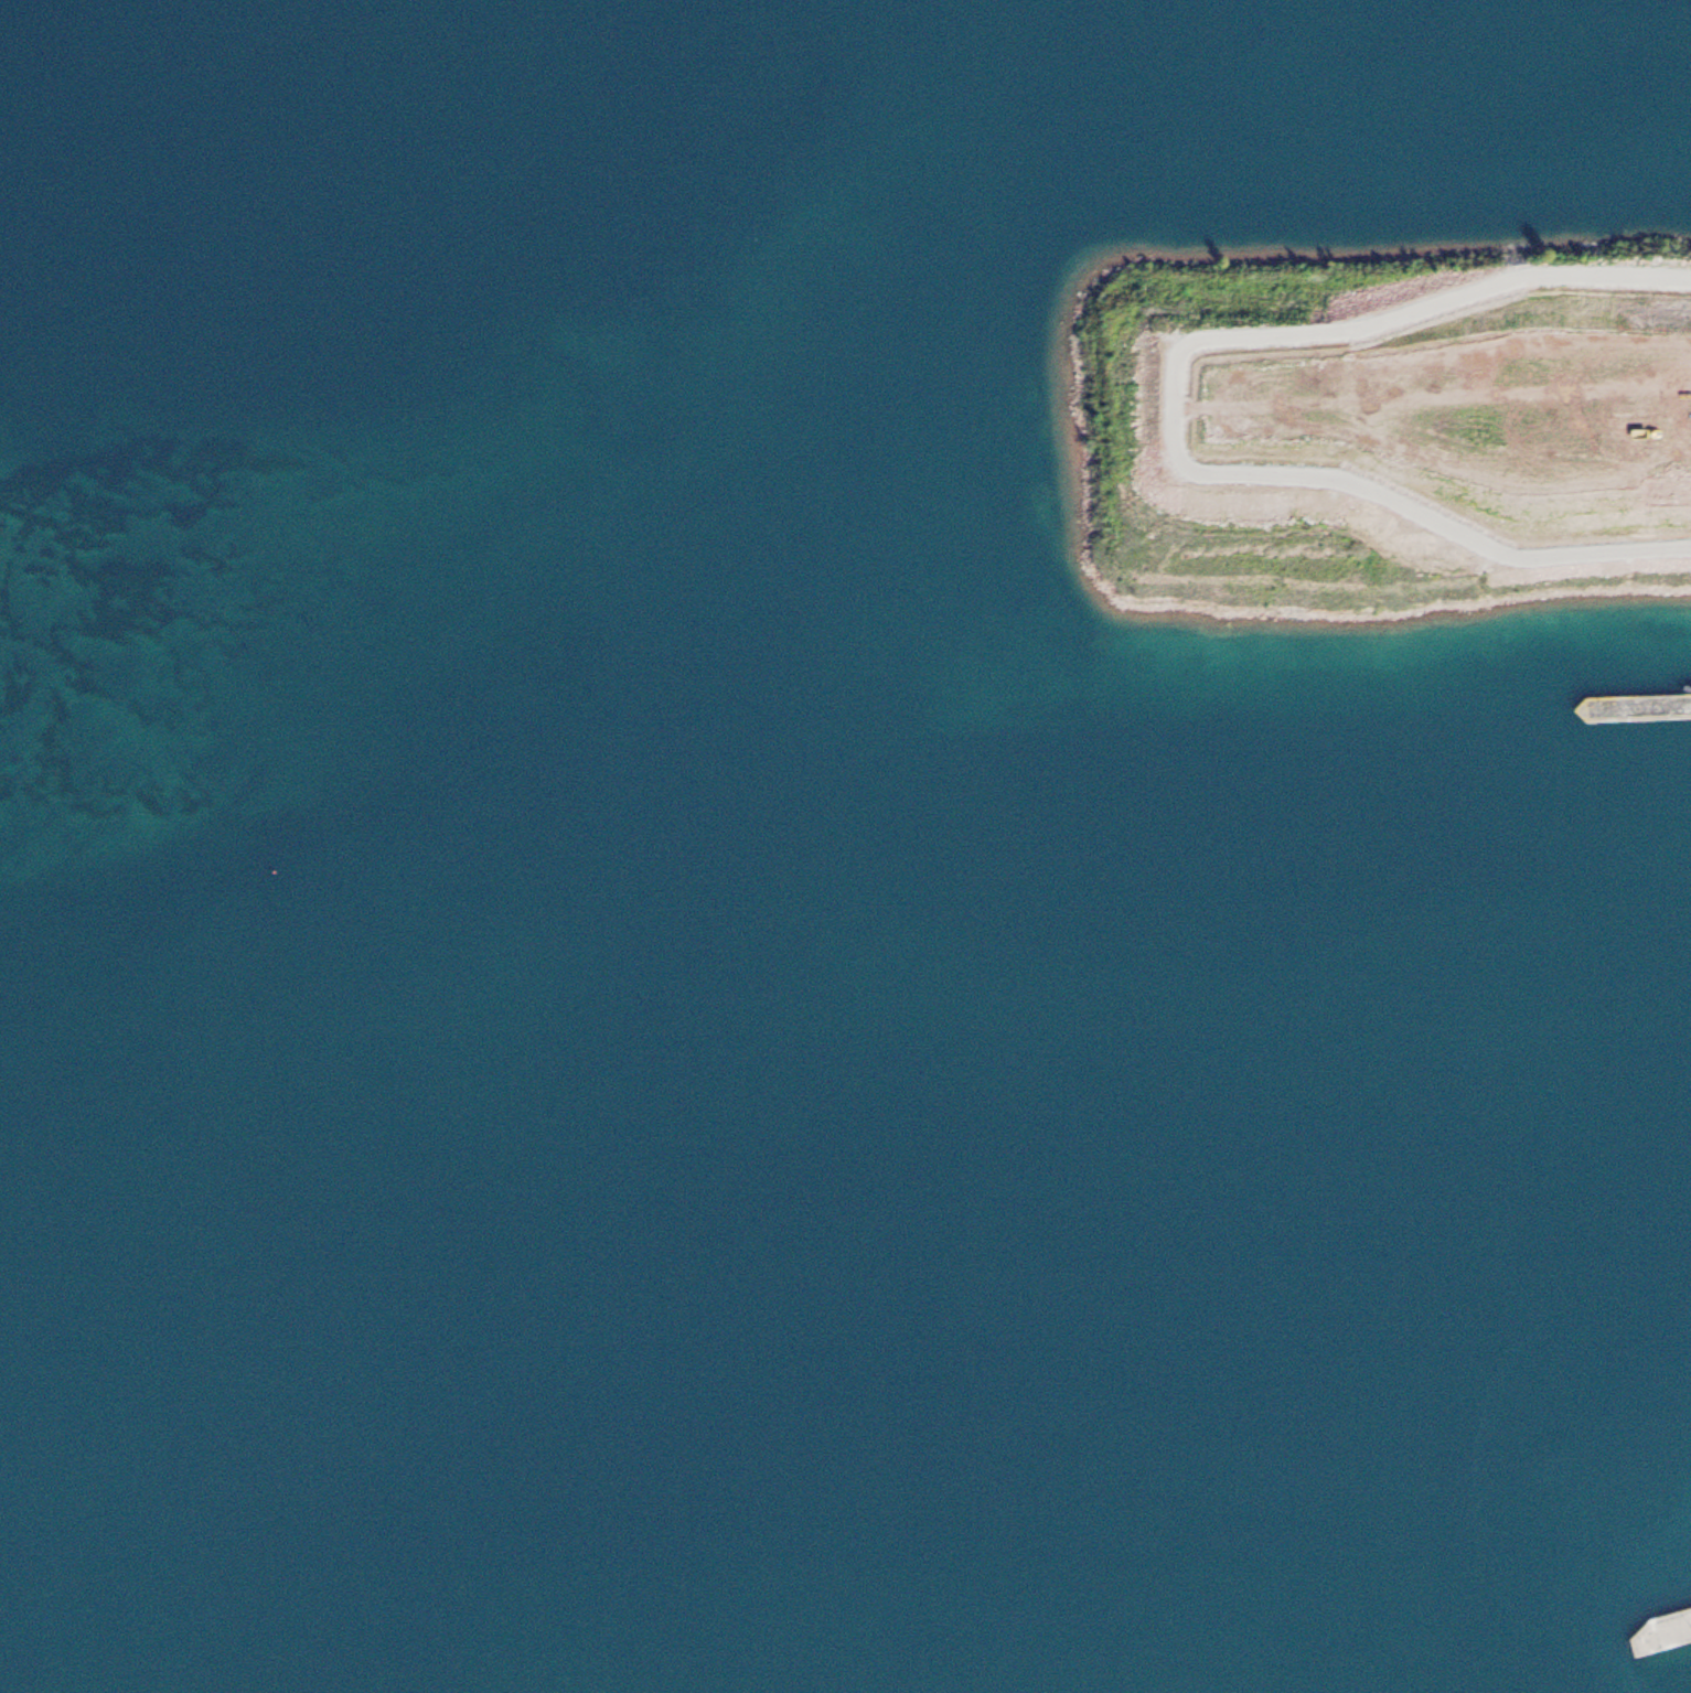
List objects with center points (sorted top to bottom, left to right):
river: (845, 1397)

